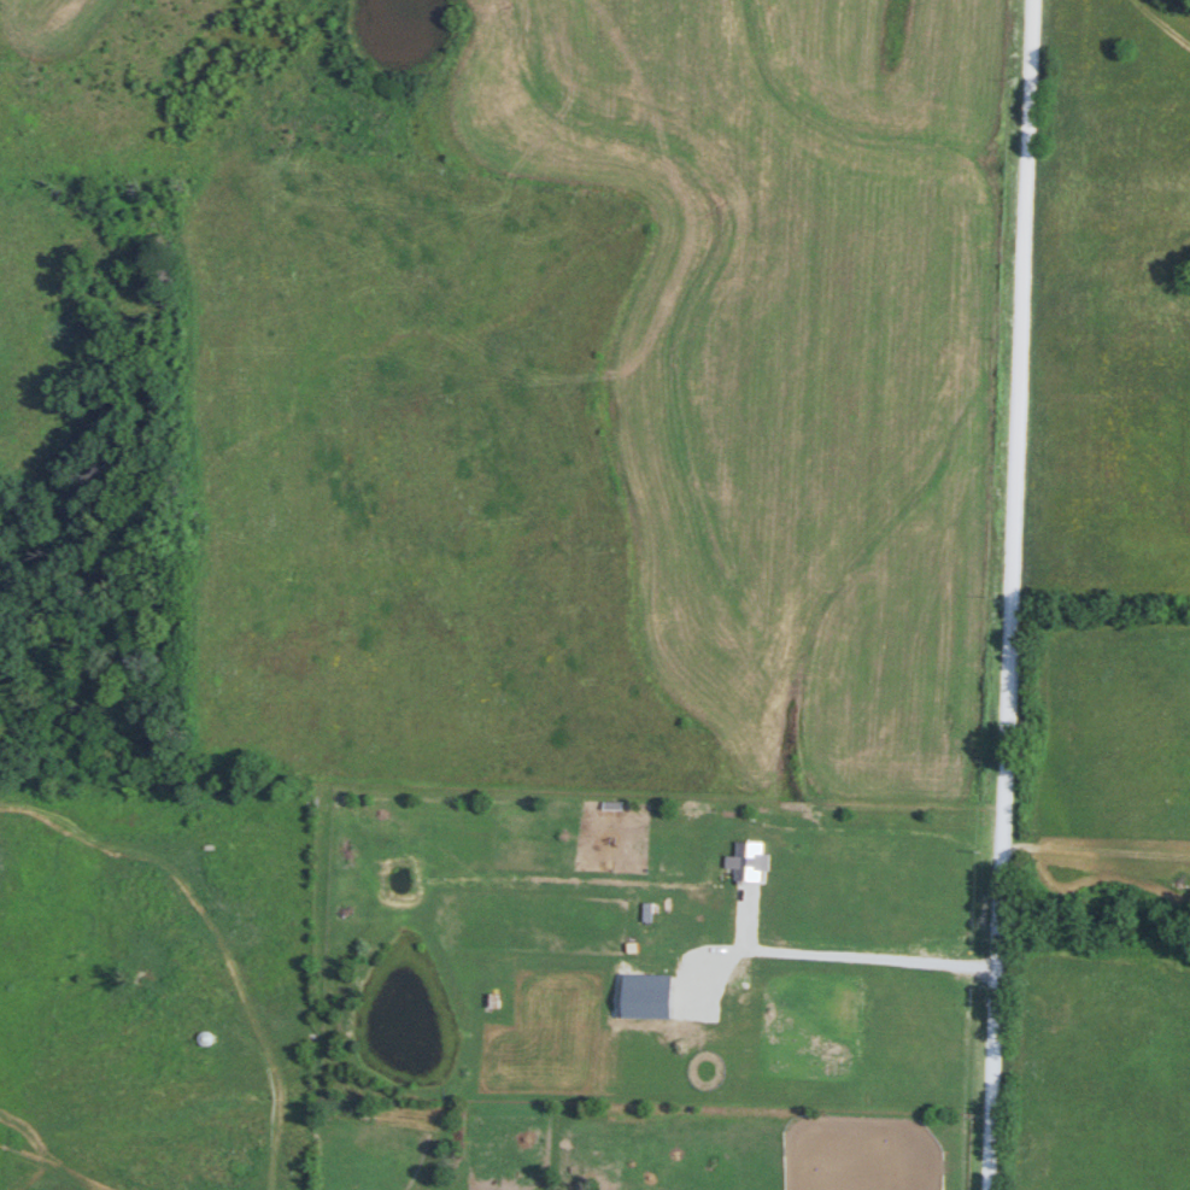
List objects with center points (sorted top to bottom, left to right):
road: (1008, 594)
road: (843, 955)

